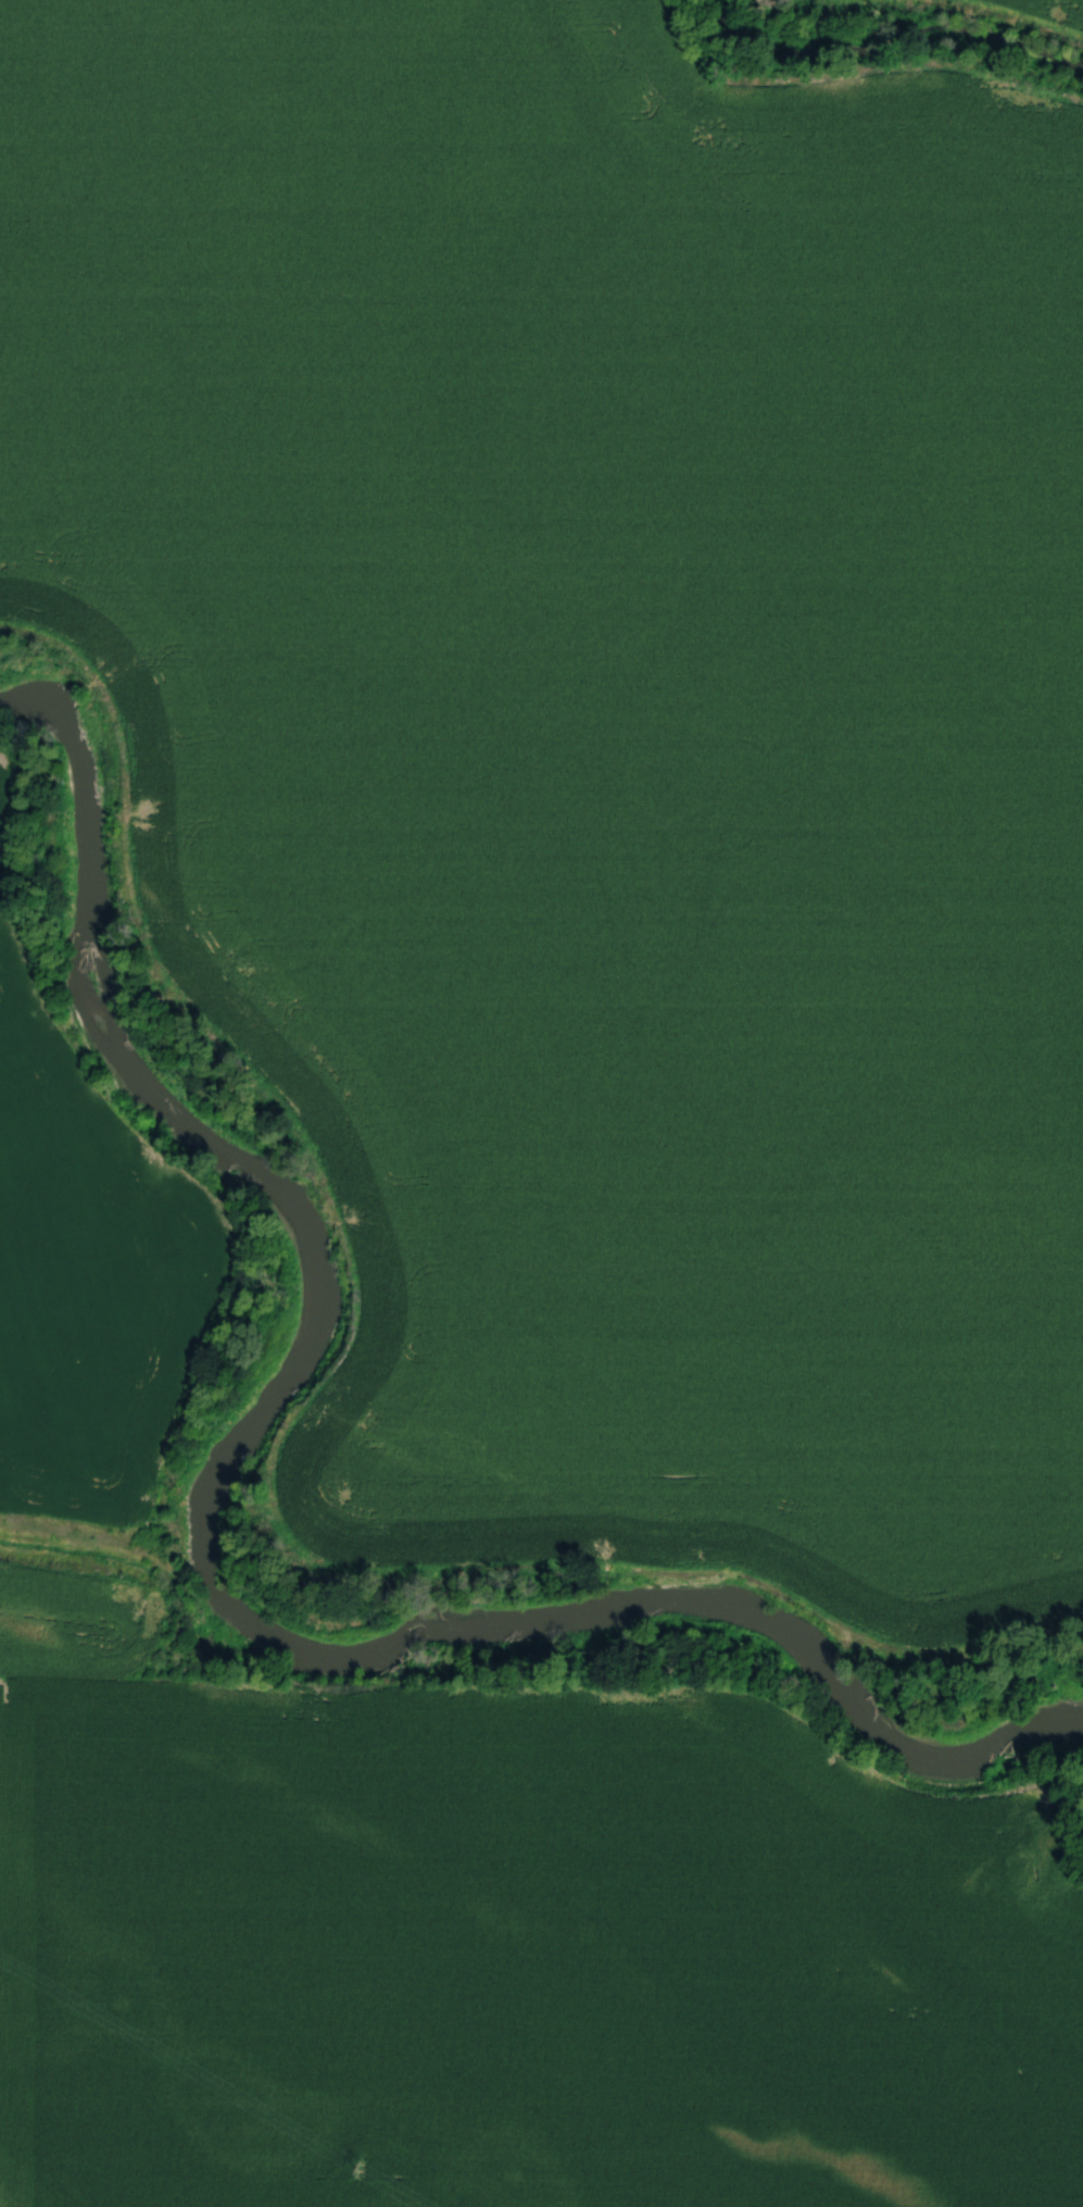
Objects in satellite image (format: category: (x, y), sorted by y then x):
river: (894, 35)
river: (201, 1524)
power tower: (363, 2161)

